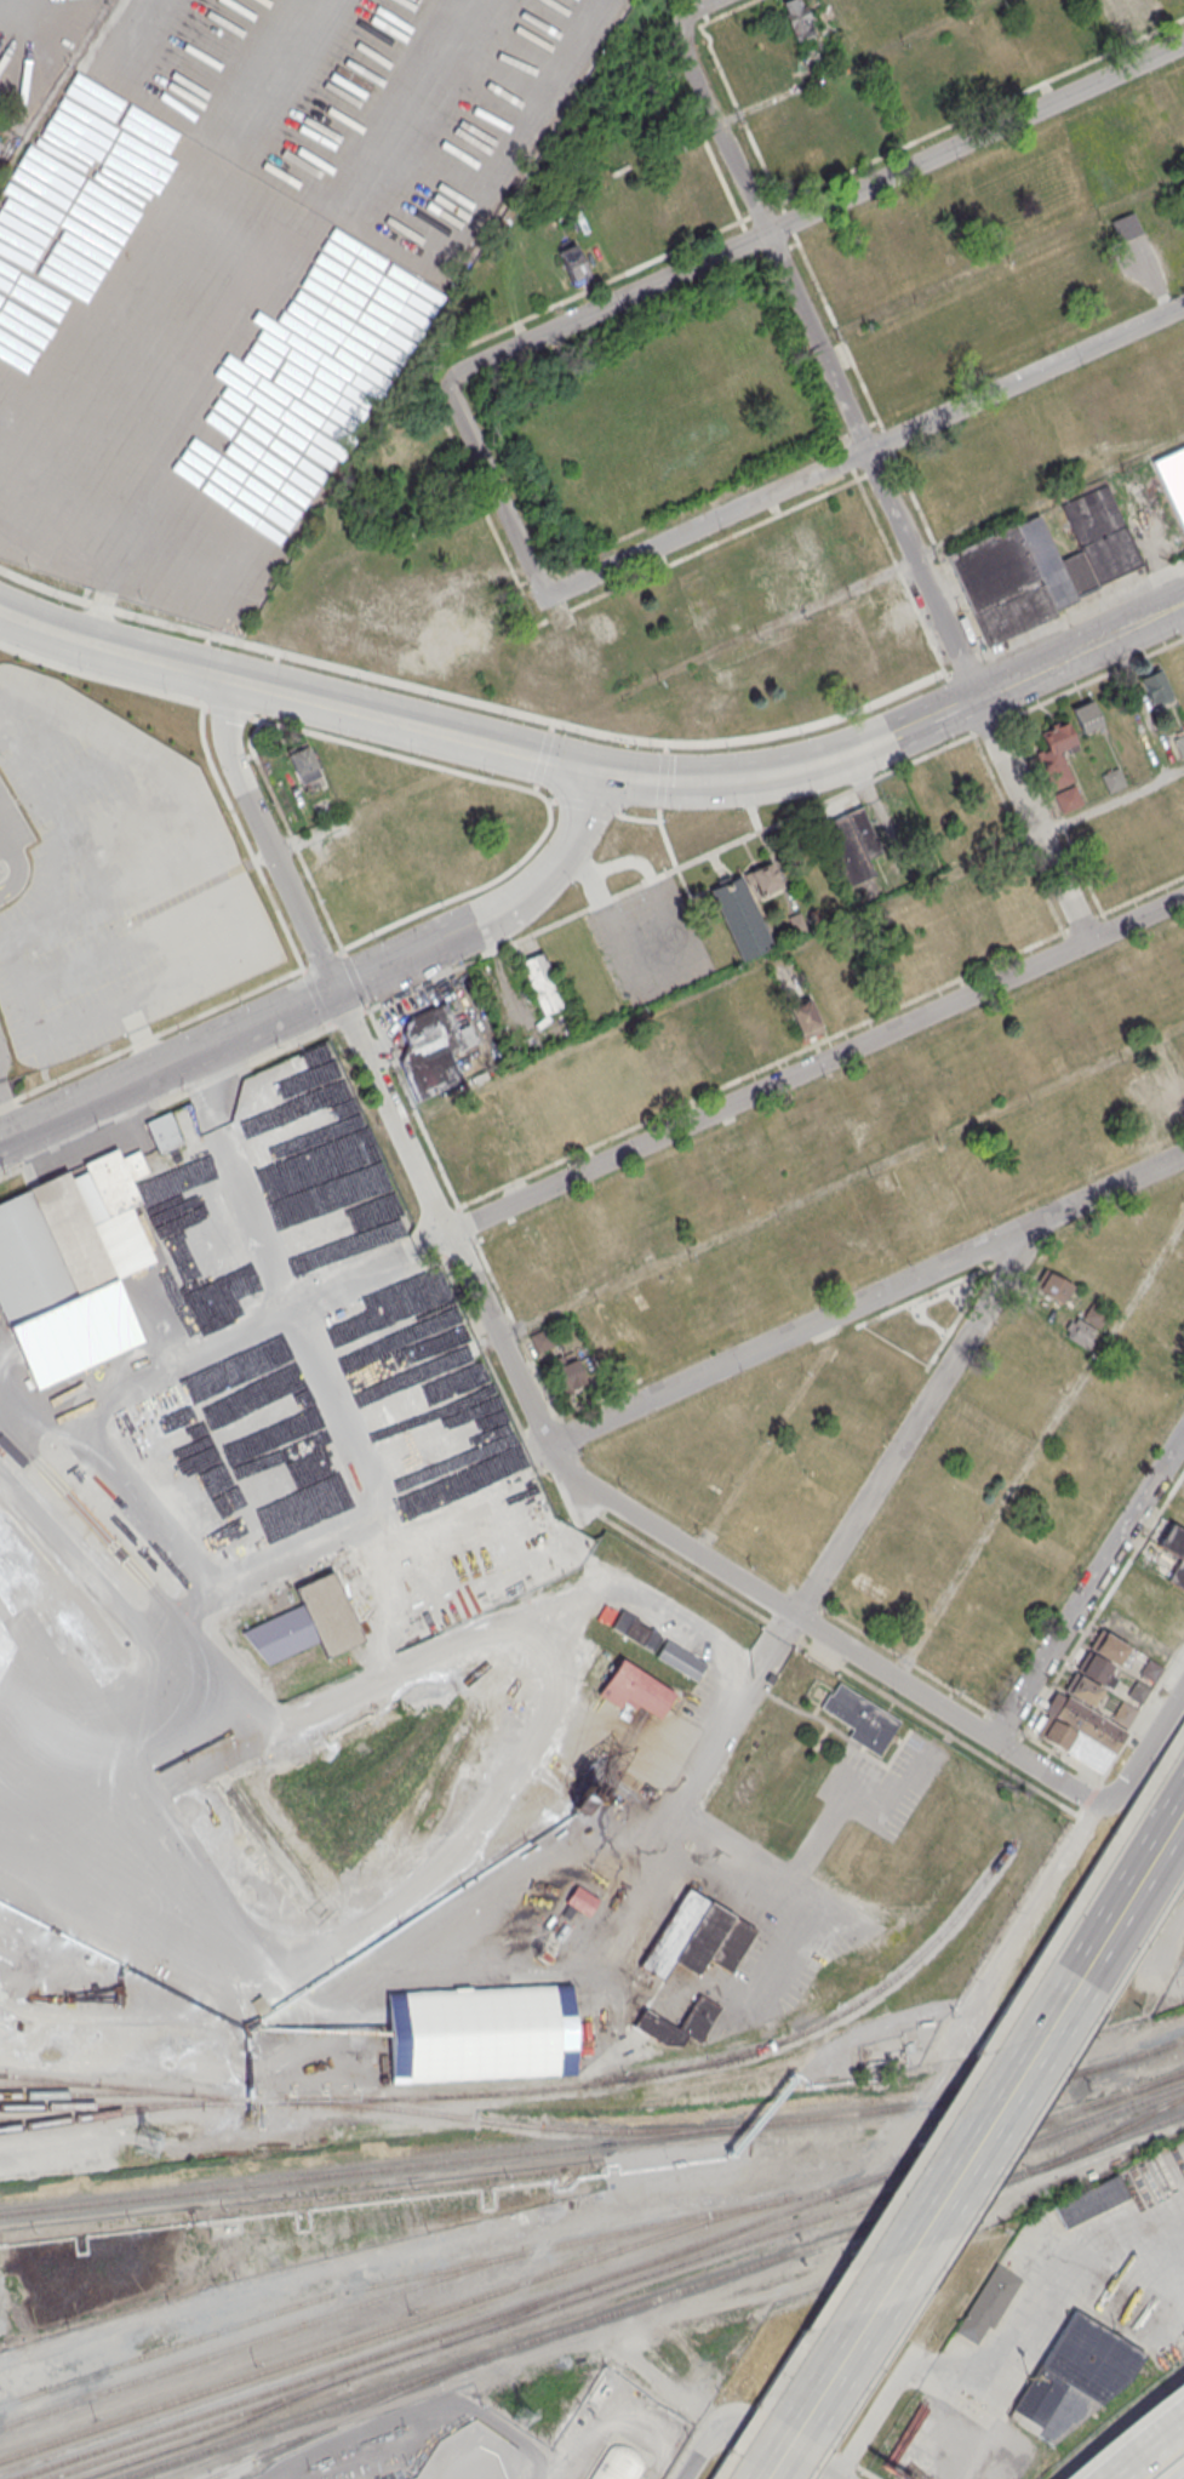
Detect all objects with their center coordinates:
building: (1173, 5)
road: (696, 6)
building: (796, 17)
building: (1128, 17)
road: (138, 36)
road: (847, 61)
road: (275, 68)
road: (414, 104)
road: (976, 136)
building: (1126, 225)
road: (999, 252)
building: (576, 264)
building: (1136, 275)
road: (604, 305)
building: (926, 361)
road: (1024, 377)
road: (876, 476)
building: (1172, 478)
road: (493, 491)
road: (999, 521)
road: (704, 524)
building: (1096, 542)
building: (1045, 562)
building: (1000, 583)
road: (1083, 610)
building: (354, 627)
road: (1106, 639)
road: (962, 664)
building: (1155, 685)
road: (1002, 686)
road: (298, 695)
road: (469, 702)
building: (797, 702)
road: (944, 713)
building: (1087, 715)
road: (903, 732)
building: (1179, 743)
road: (851, 753)
building: (1056, 753)
building: (303, 761)
traffic signals: (600, 771)
road: (784, 772)
building: (1114, 778)
road: (677, 781)
building: (1070, 799)
building: (865, 833)
road: (284, 846)
building: (847, 850)
building: (763, 878)
building: (740, 915)
building: (796, 923)
road: (789, 946)
road: (321, 959)
building: (782, 970)
building: (542, 982)
road: (332, 992)
building: (702, 1010)
building: (806, 1016)
building: (431, 1051)
building: (711, 1053)
road: (813, 1064)
building: (1177, 1102)
road: (7, 1110)
building: (172, 1131)
building: (116, 1178)
road: (842, 1184)
building: (366, 1217)
building: (56, 1255)
building: (1053, 1286)
building: (1183, 1290)
road: (293, 1301)
building: (1094, 1314)
building: (425, 1321)
park: (923, 1321)
building: (1081, 1332)
building: (542, 1340)
building: (567, 1371)
road: (693, 1377)
building: (434, 1400)
road: (332, 1412)
road: (915, 1418)
road: (1040, 1446)
building: (379, 1468)
building: (826, 1469)
building: (291, 1483)
building: (265, 1508)
building: (234, 1510)
road: (566, 1535)
building: (1178, 1566)
building: (400, 1571)
road: (1088, 1584)
road: (784, 1610)
building: (309, 1622)
building: (636, 1632)
building: (1110, 1646)
building: (1097, 1668)
building: (1151, 1669)
building: (633, 1689)
building: (1082, 1689)
building: (1138, 1690)
building: (1125, 1712)
building: (866, 1721)
building: (1080, 1732)
road: (688, 1792)
road: (774, 1880)
road: (1131, 1889)
building: (582, 1898)
road: (465, 1920)
building: (698, 1936)
road: (736, 2001)
building: (699, 2017)
building: (480, 2032)
railway: (2, 2073)
railway: (1159, 2080)
railway: (48, 2081)
railway: (142, 2087)
railway: (549, 2087)
railway: (96, 2092)
railway: (101, 2115)
railway: (51, 2119)
railway: (517, 2123)
railway: (1117, 2129)
power tower: (155, 2137)
railway: (595, 2142)
railway: (986, 2158)
railway: (1037, 2167)
building: (1091, 2201)
road: (920, 2226)
railway: (446, 2268)
railway: (597, 2279)
railway: (652, 2298)
building: (986, 2302)
road: (1036, 2307)
railway: (391, 2325)
railway: (261, 2338)
railway: (413, 2352)
building: (1074, 2376)
road: (899, 2381)
power tower: (520, 2414)
railway: (213, 2433)
road: (1142, 2444)
road: (704, 2451)
road: (771, 2451)
road: (544, 2458)
building: (617, 2463)
railway: (215, 2475)

